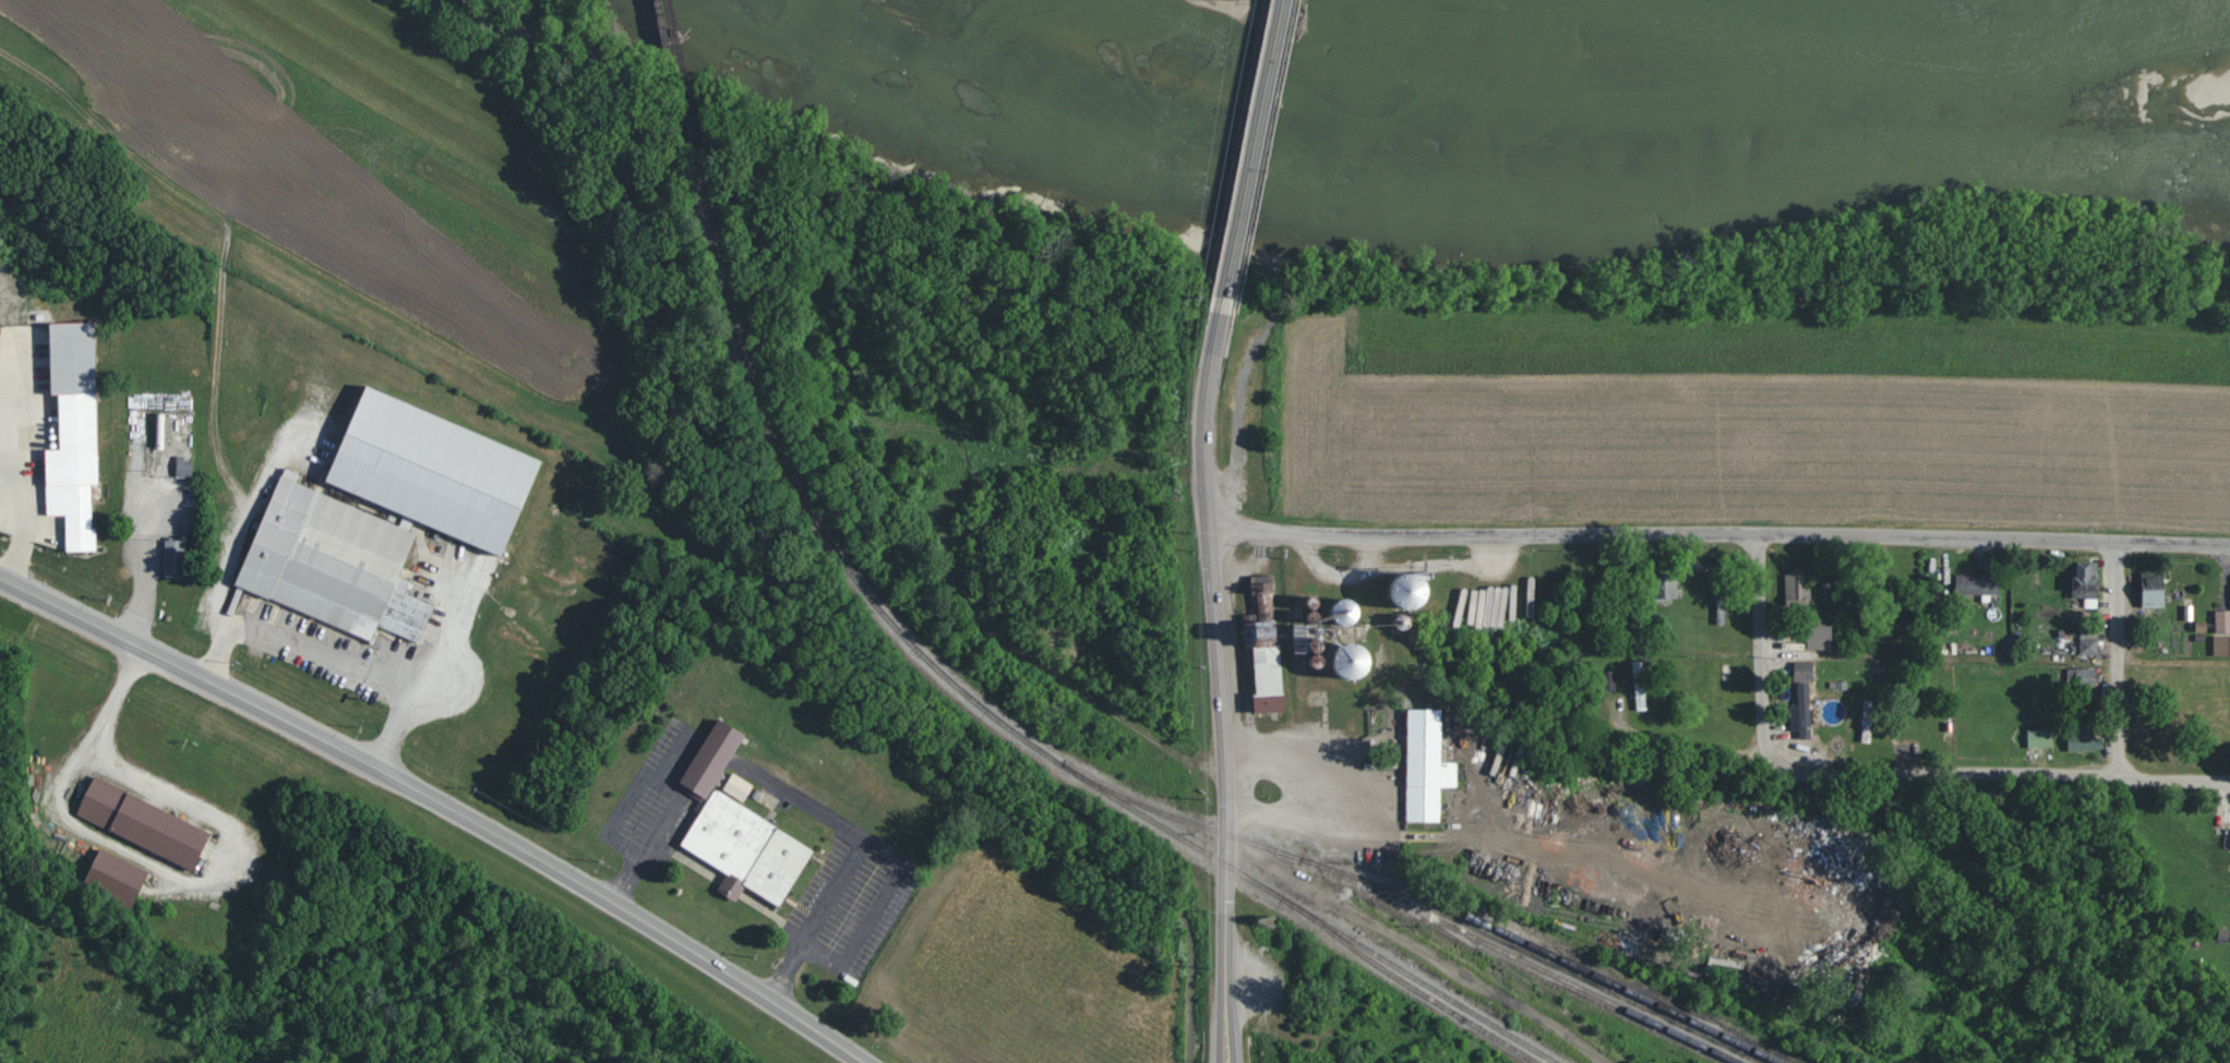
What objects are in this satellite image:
railway: (681, 74)
river: (1620, 76)
road: (1252, 156)
road: (1242, 383)
building: (74, 433)
building: (183, 468)
building: (323, 517)
road: (1716, 523)
building: (175, 558)
building: (2087, 581)
building: (1977, 583)
building: (1666, 584)
building: (1797, 588)
building: (1261, 589)
building: (2154, 589)
road: (140, 595)
building: (1351, 608)
building: (2221, 632)
building: (1820, 636)
building: (1306, 640)
building: (2088, 641)
road: (2113, 650)
road: (327, 656)
building: (1357, 657)
building: (1268, 663)
building: (1803, 671)
building: (2086, 675)
road: (1752, 680)
building: (1640, 685)
road: (1218, 686)
railway: (995, 718)
building: (1868, 720)
building: (2039, 737)
building: (2084, 738)
building: (712, 759)
road: (2040, 763)
building: (1427, 764)
building: (738, 786)
road: (630, 796)
road: (446, 800)
building: (143, 824)
road: (874, 847)
building: (747, 848)
building: (117, 878)
railway: (1460, 918)
road: (1422, 949)
railway: (1386, 969)

